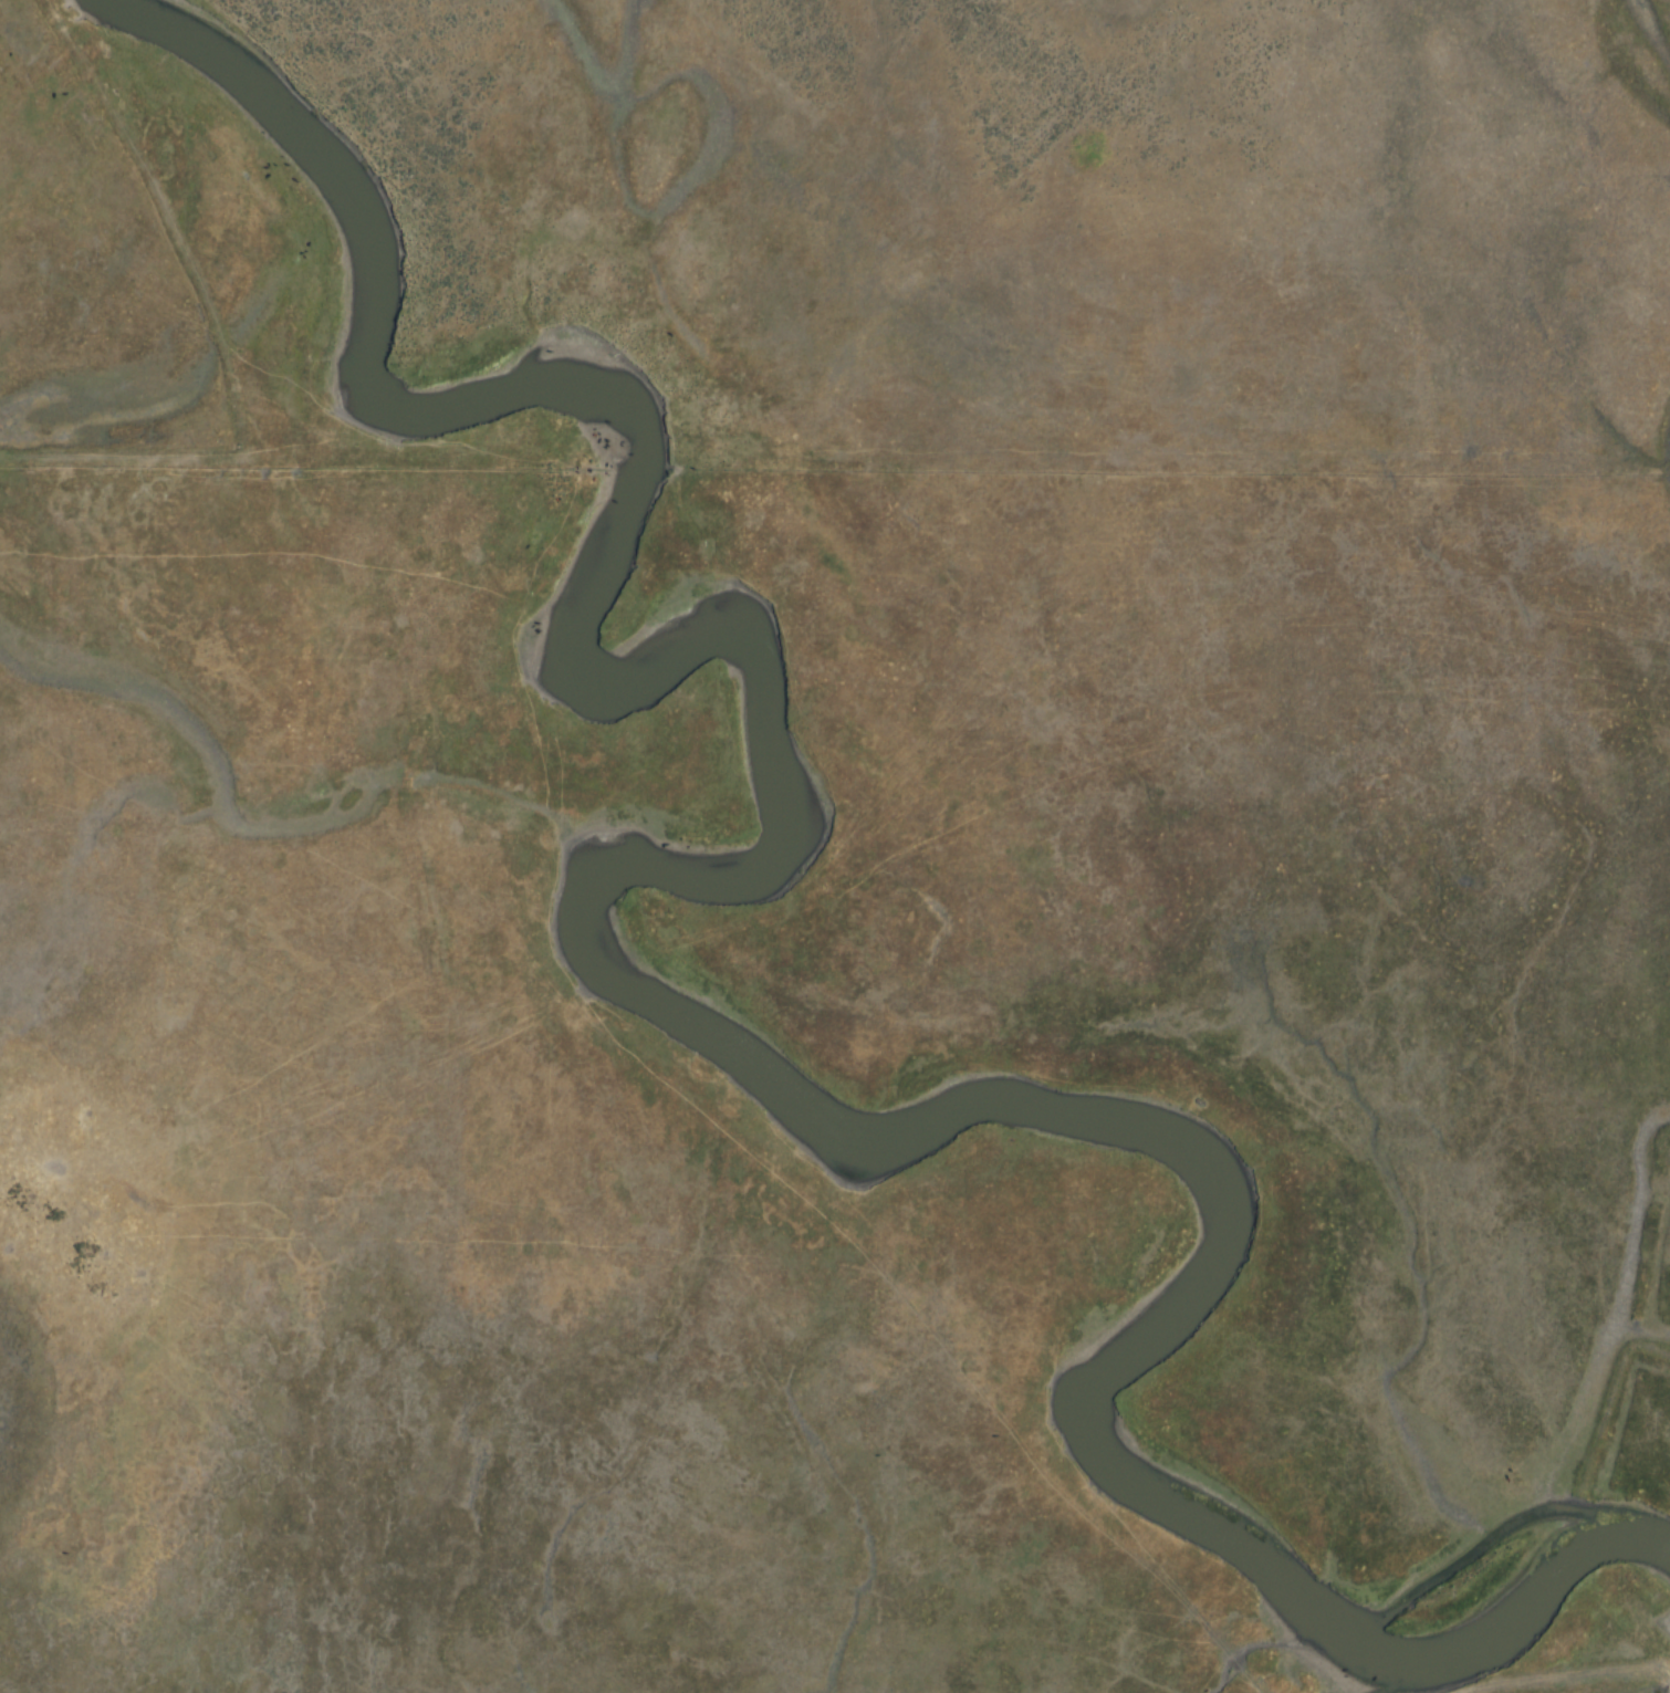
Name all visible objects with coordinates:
road: (212, 325)

